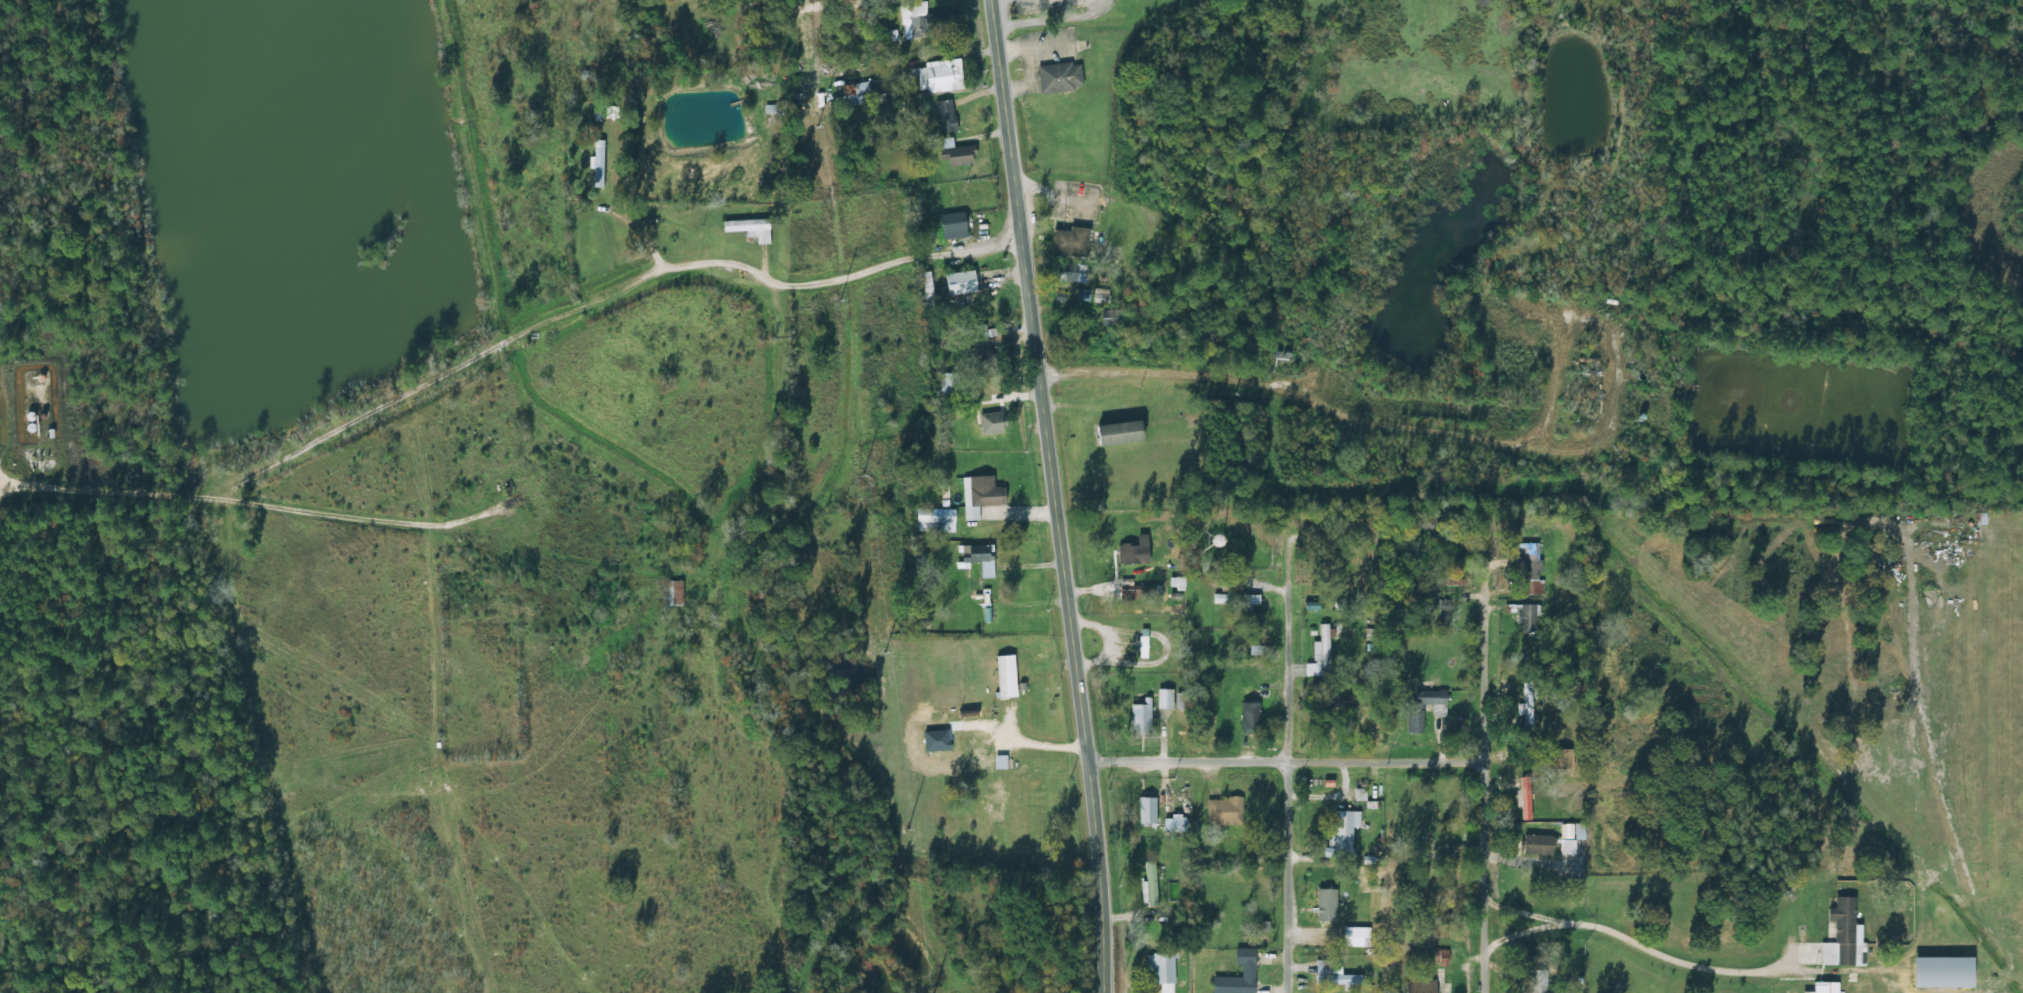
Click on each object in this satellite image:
building: (928, 20)
building: (940, 76)
building: (1060, 78)
building: (774, 109)
building: (946, 116)
building: (955, 153)
building: (598, 163)
building: (953, 226)
building: (1071, 242)
building: (1072, 273)
building: (963, 283)
building: (1107, 315)
road: (501, 330)
building: (983, 353)
road: (1338, 386)
building: (949, 389)
building: (986, 428)
building: (1123, 434)
building: (982, 495)
road: (1053, 495)
building: (936, 520)
building: (1136, 551)
building: (978, 553)
building: (672, 593)
building: (1237, 598)
building: (1439, 610)
building: (1527, 618)
building: (1143, 642)
building: (1320, 654)
building: (1165, 698)
building: (1182, 701)
building: (1527, 704)
building: (1251, 717)
building: (1141, 718)
road: (1271, 725)
road: (1460, 730)
road: (1268, 758)
building: (1532, 798)
building: (996, 801)
building: (1148, 810)
building: (1224, 811)
building: (1344, 833)
building: (1573, 836)
building: (1539, 844)
building: (1151, 883)
building: (1324, 914)
building: (1842, 933)
building: (1357, 937)
building: (1445, 957)
building: (1161, 968)
building: (1249, 970)
building: (1947, 972)
building: (1334, 974)
building: (1421, 986)
building: (1783, 986)
building: (1827, 987)

